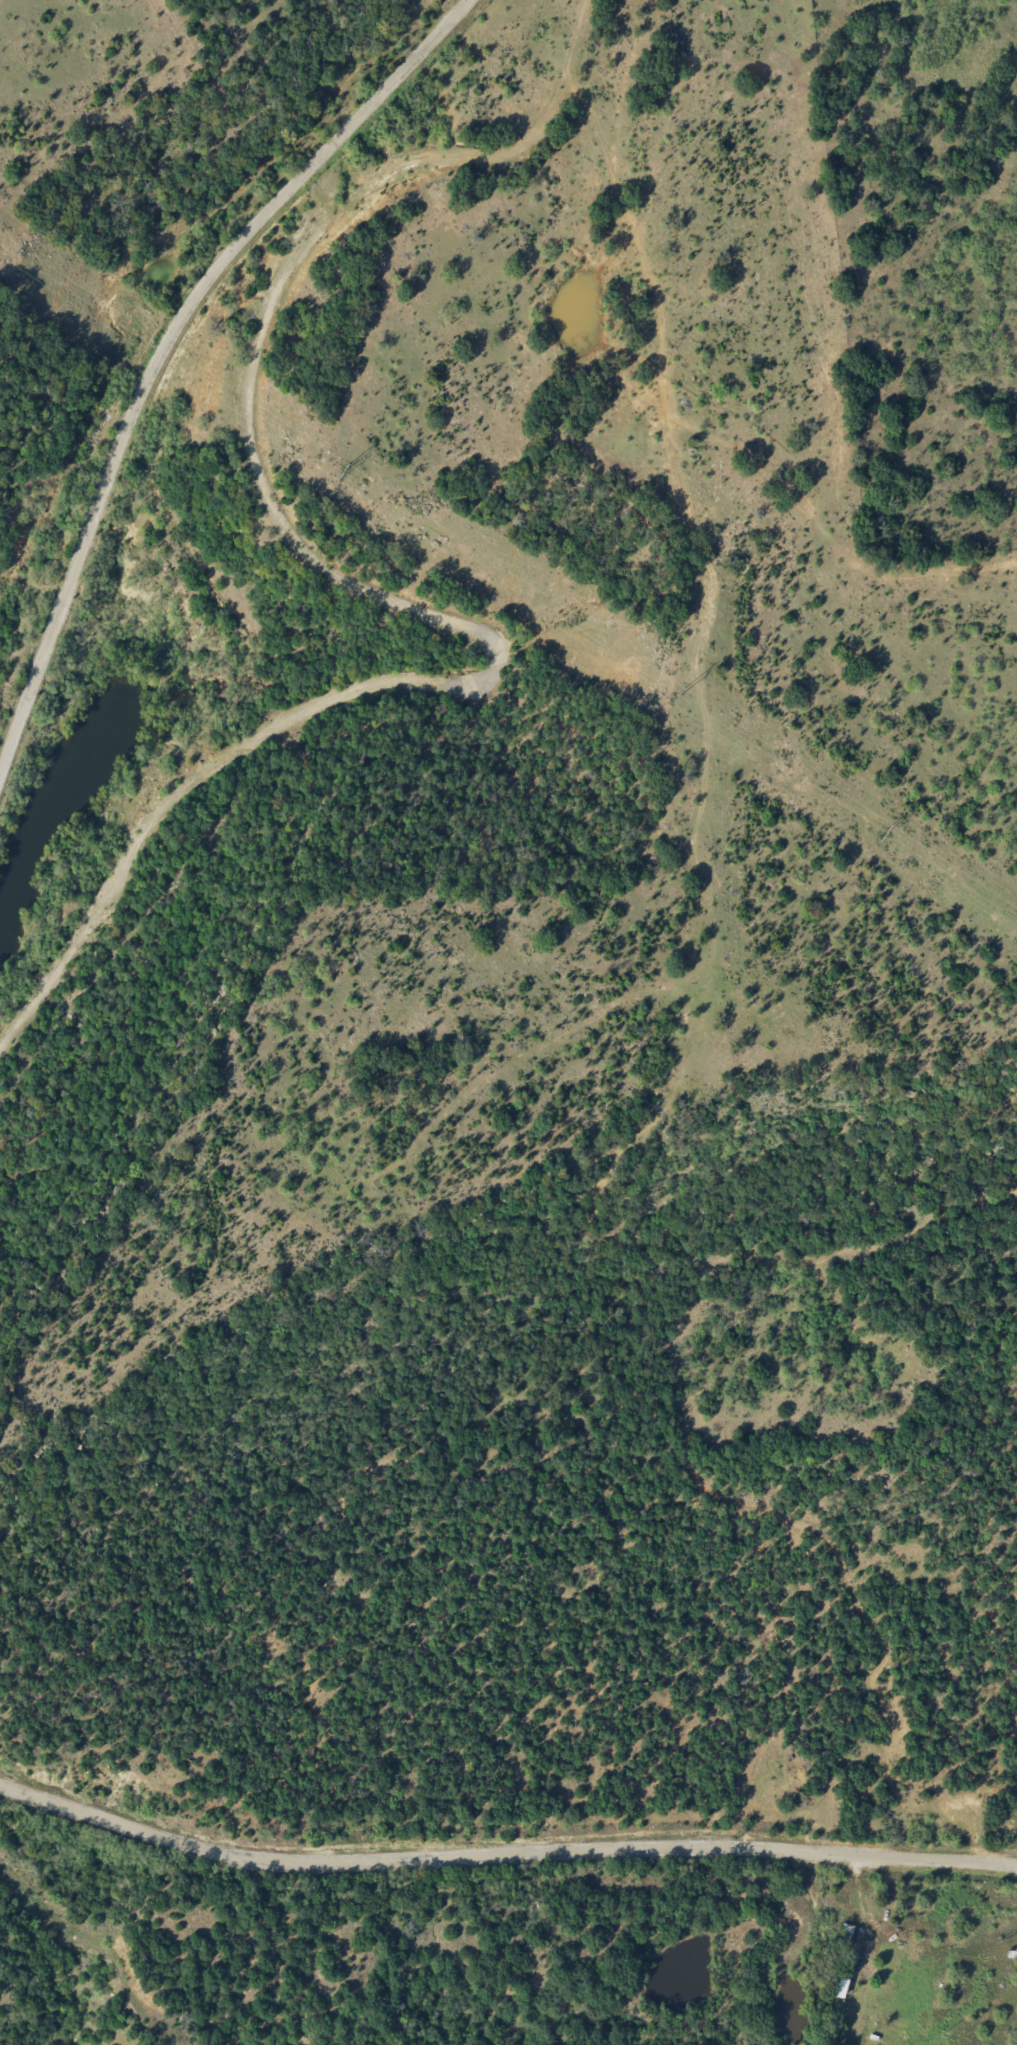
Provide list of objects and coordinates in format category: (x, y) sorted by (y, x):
road: (167, 335)
power tower: (341, 471)
road: (503, 1852)
road: (862, 1912)
building: (843, 1933)
building: (839, 1975)

